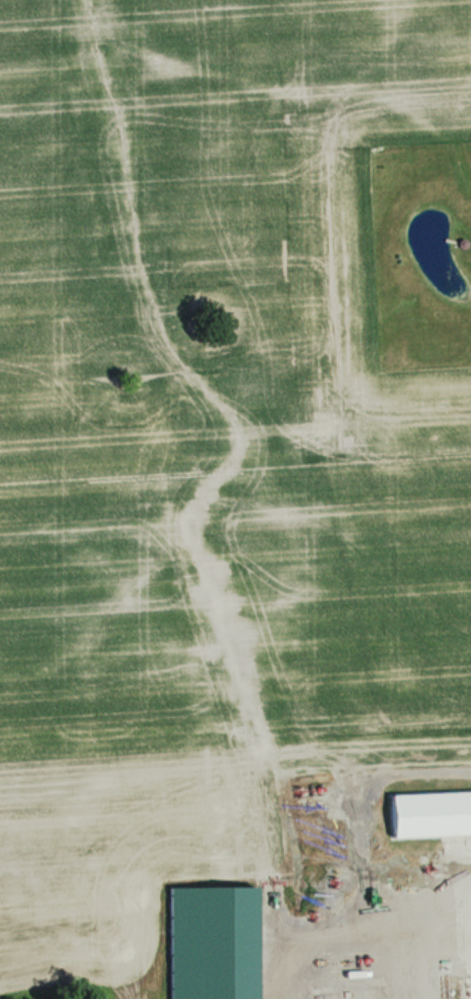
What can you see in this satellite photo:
building: (430, 814)

